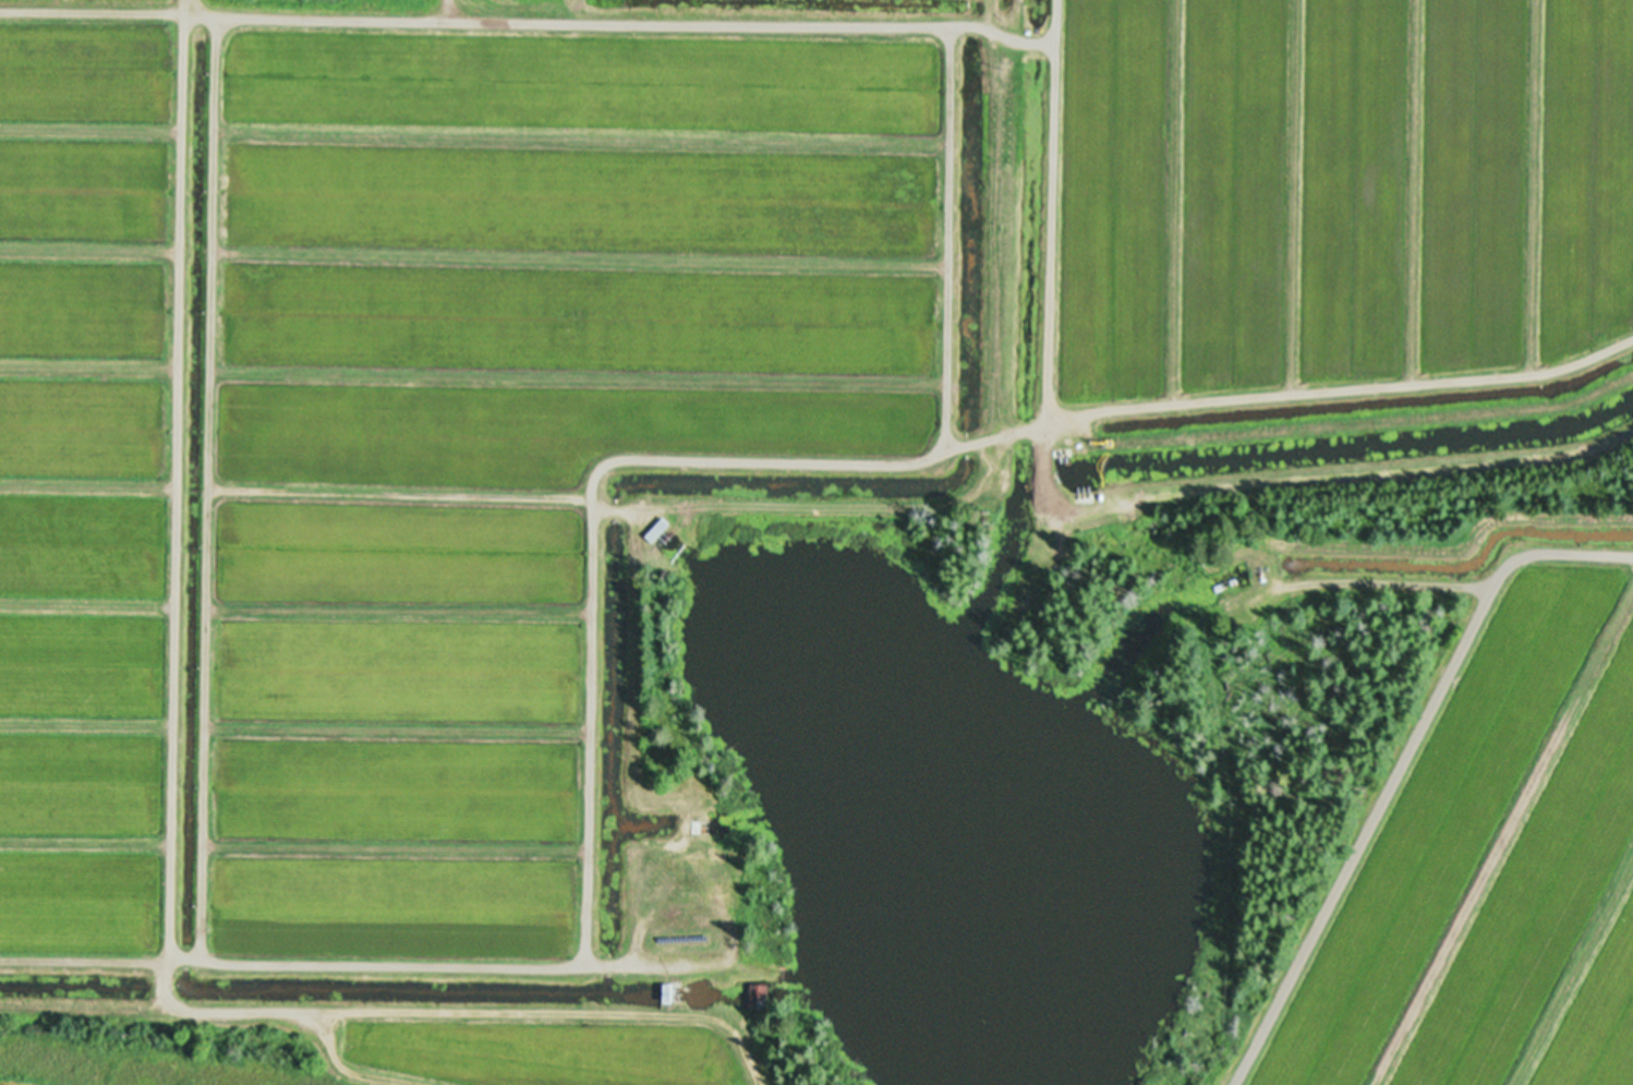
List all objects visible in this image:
crop: (769, 486)
building: (653, 530)
road: (1406, 798)
building: (697, 827)
building: (665, 993)
building: (757, 997)

